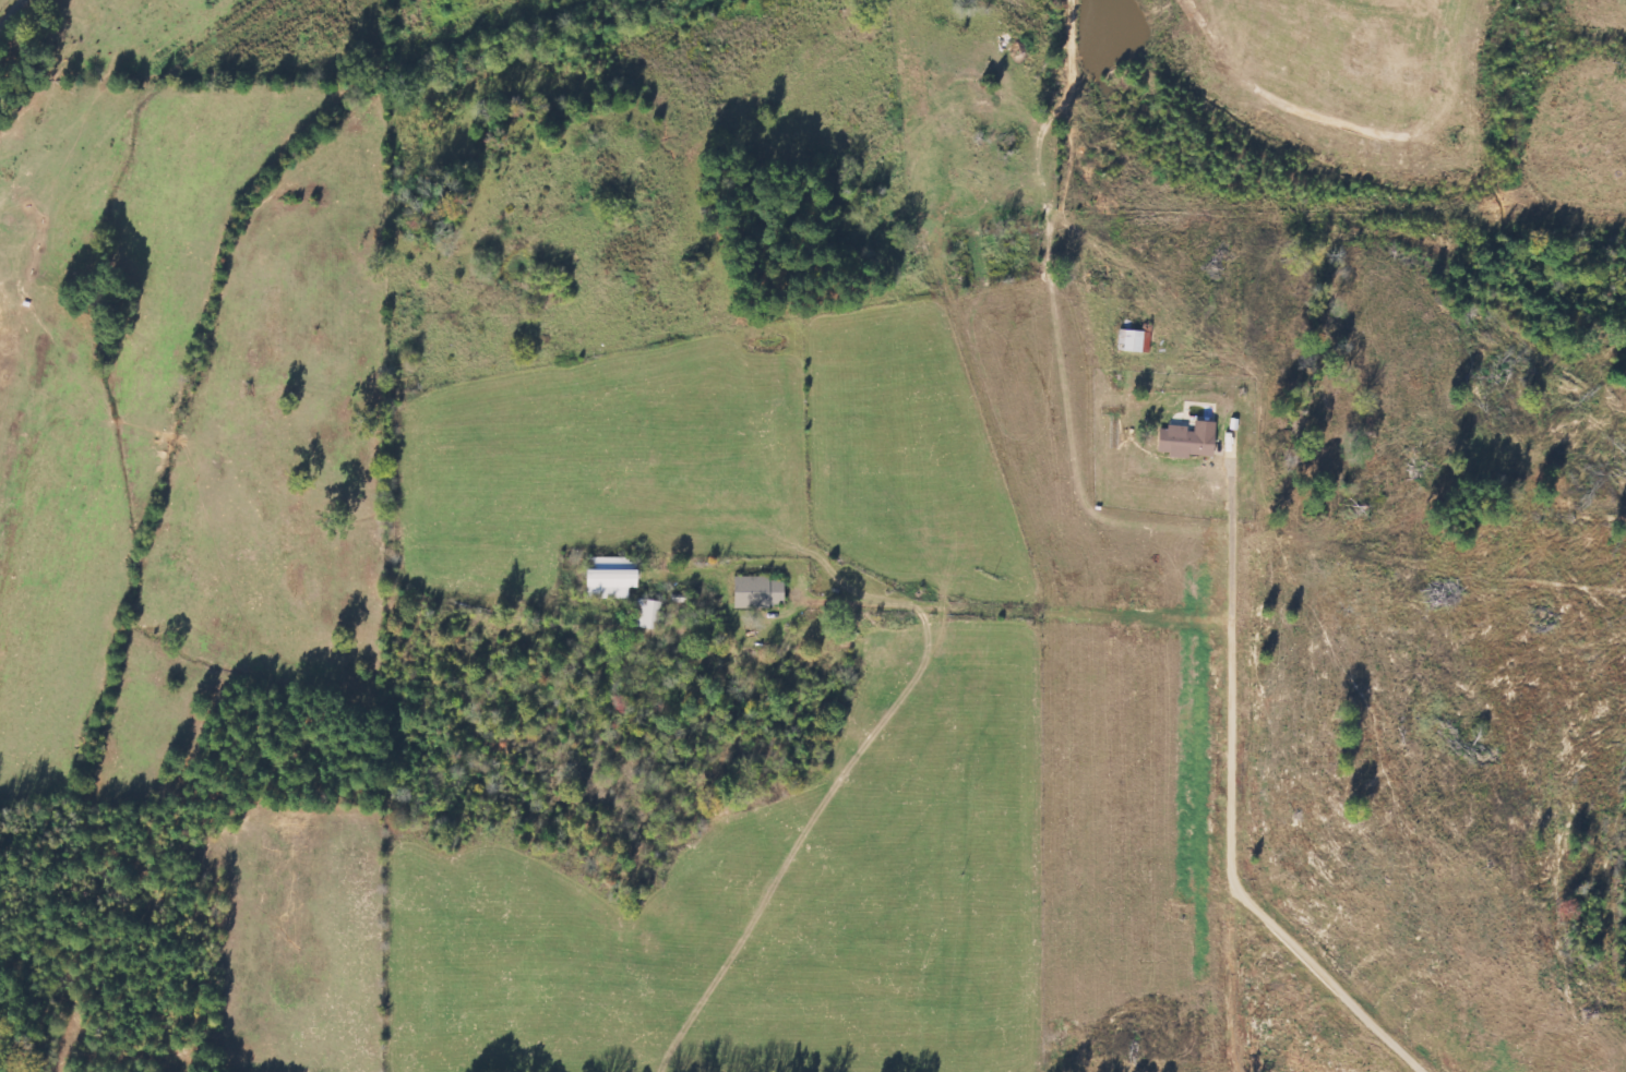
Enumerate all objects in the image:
road: (19, 25)
building: (1133, 342)
building: (1185, 441)
road: (1434, 478)
building: (609, 581)
building: (755, 592)
building: (645, 614)
road: (1314, 1063)
road: (1494, 1067)

